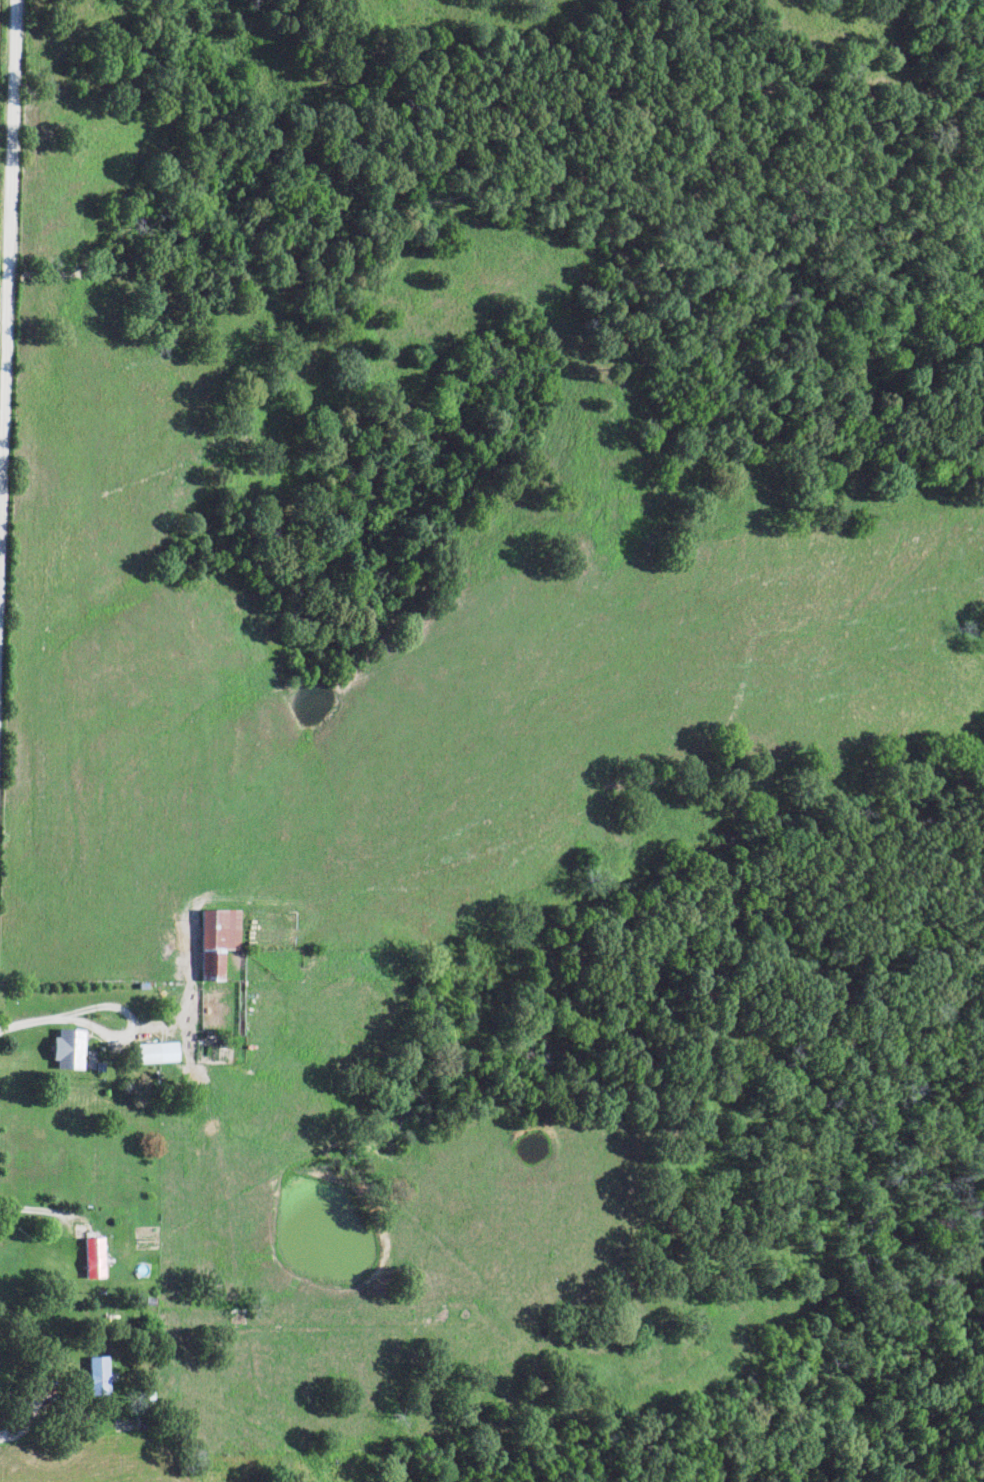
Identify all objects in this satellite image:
building: (219, 939)
road: (32, 1018)
road: (132, 1024)
building: (70, 1048)
building: (158, 1053)
building: (96, 1258)
building: (100, 1376)

